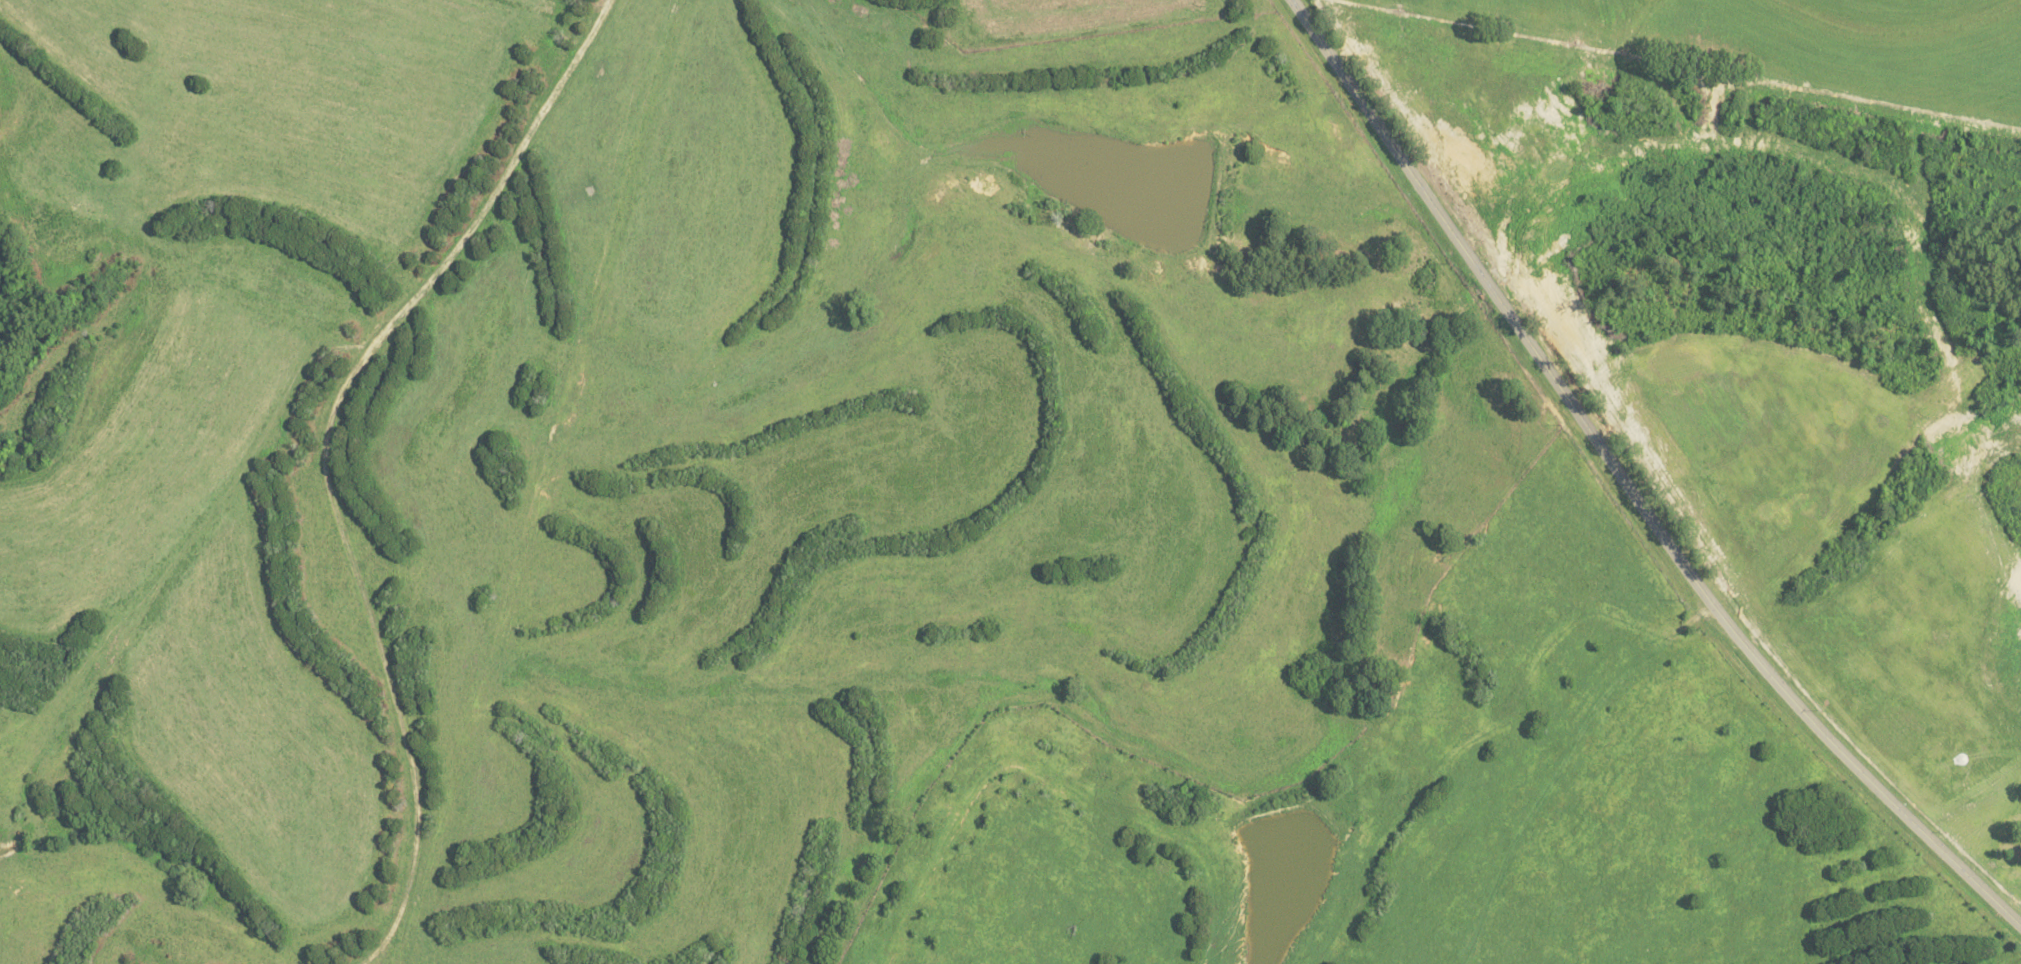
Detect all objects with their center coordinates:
road: (1625, 489)

